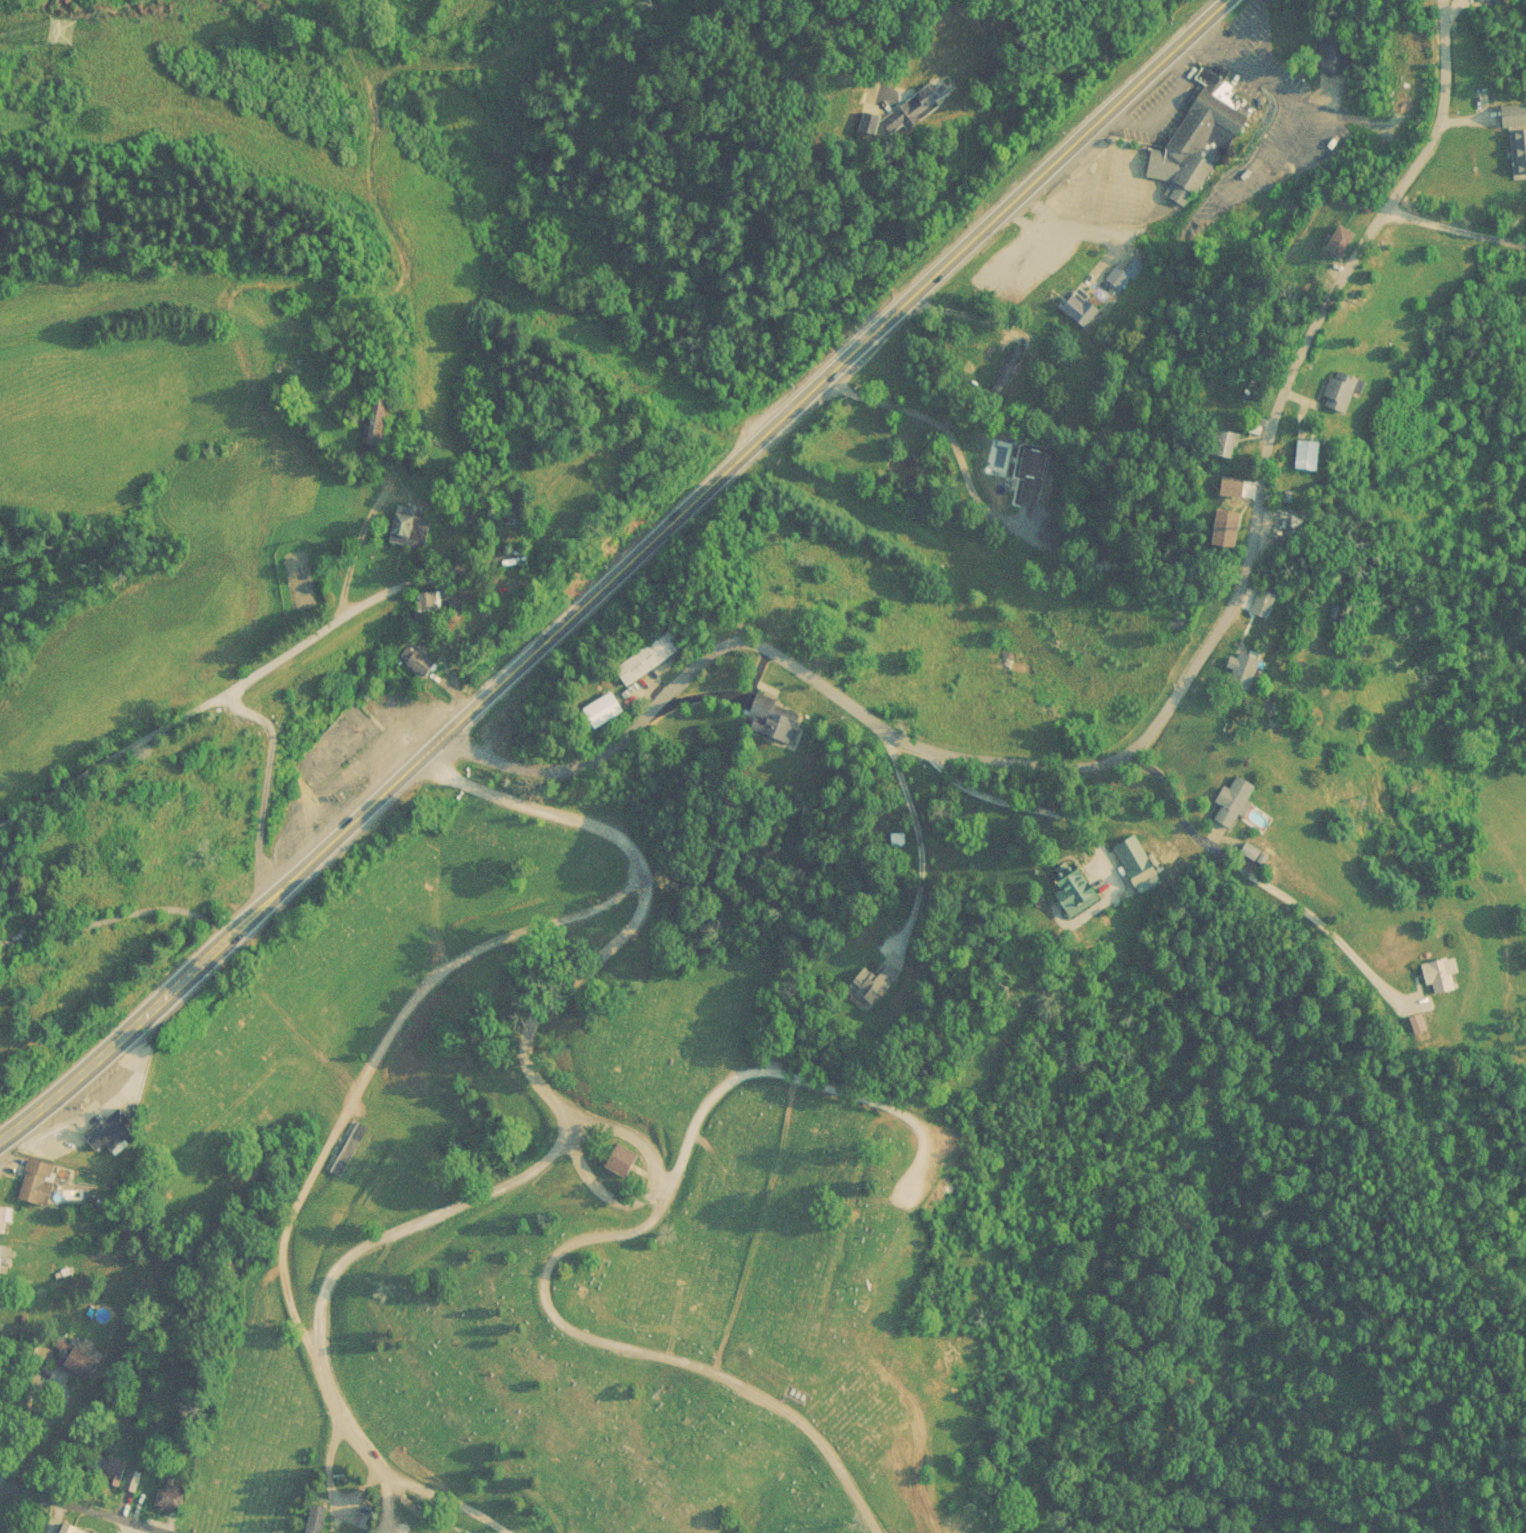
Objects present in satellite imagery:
power tower: (58, 34)
building: (1332, 48)
building: (912, 109)
building: (1517, 139)
building: (1191, 151)
road: (1457, 224)
building: (1343, 241)
building: (1119, 278)
building: (1078, 306)
building: (1007, 372)
building: (1343, 390)
building: (375, 420)
road: (948, 435)
building: (1228, 443)
building: (1309, 454)
building: (1030, 473)
building: (411, 526)
building: (1229, 528)
building: (1049, 531)
road: (349, 561)
road: (617, 576)
building: (431, 600)
building: (1264, 603)
building: (792, 625)
road: (329, 628)
building: (651, 657)
building: (418, 661)
building: (1244, 668)
building: (298, 683)
road: (724, 696)
building: (609, 710)
building: (775, 718)
building: (354, 720)
road: (1150, 728)
building: (157, 766)
road: (263, 792)
road: (994, 797)
building: (1237, 802)
building: (114, 815)
road: (916, 843)
building: (1139, 864)
road: (1266, 880)
building: (1076, 889)
road: (120, 941)
road: (600, 951)
building: (1443, 975)
building: (872, 984)
building: (117, 1139)
building: (347, 1154)
building: (625, 1167)
road: (310, 1177)
building: (42, 1189)
road: (599, 1192)
park: (565, 1208)
road: (415, 1221)
building: (7, 1225)
road: (590, 1241)
building: (4, 1265)
building: (0, 1342)
building: (84, 1371)
road: (326, 1464)
building: (105, 1477)
building: (130, 1480)
building: (133, 1487)
road: (357, 1488)
building: (170, 1503)
road: (388, 1503)
road: (80, 1507)
road: (353, 1514)
building: (319, 1521)
building: (67, 1531)

